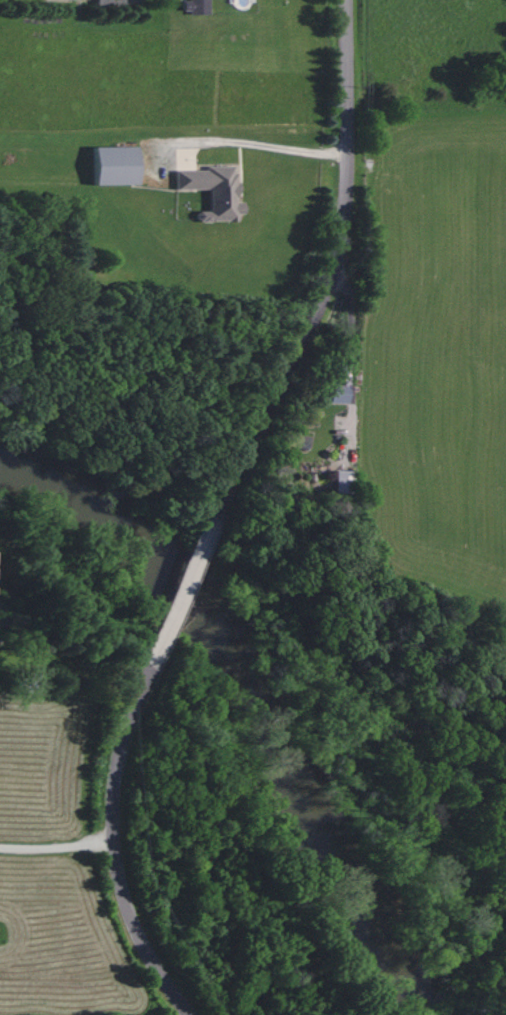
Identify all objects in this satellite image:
building: (112, 3)
road: (246, 139)
building: (111, 166)
building: (210, 192)
building: (335, 387)
building: (340, 482)
road: (220, 514)
river: (274, 690)
road: (56, 848)

